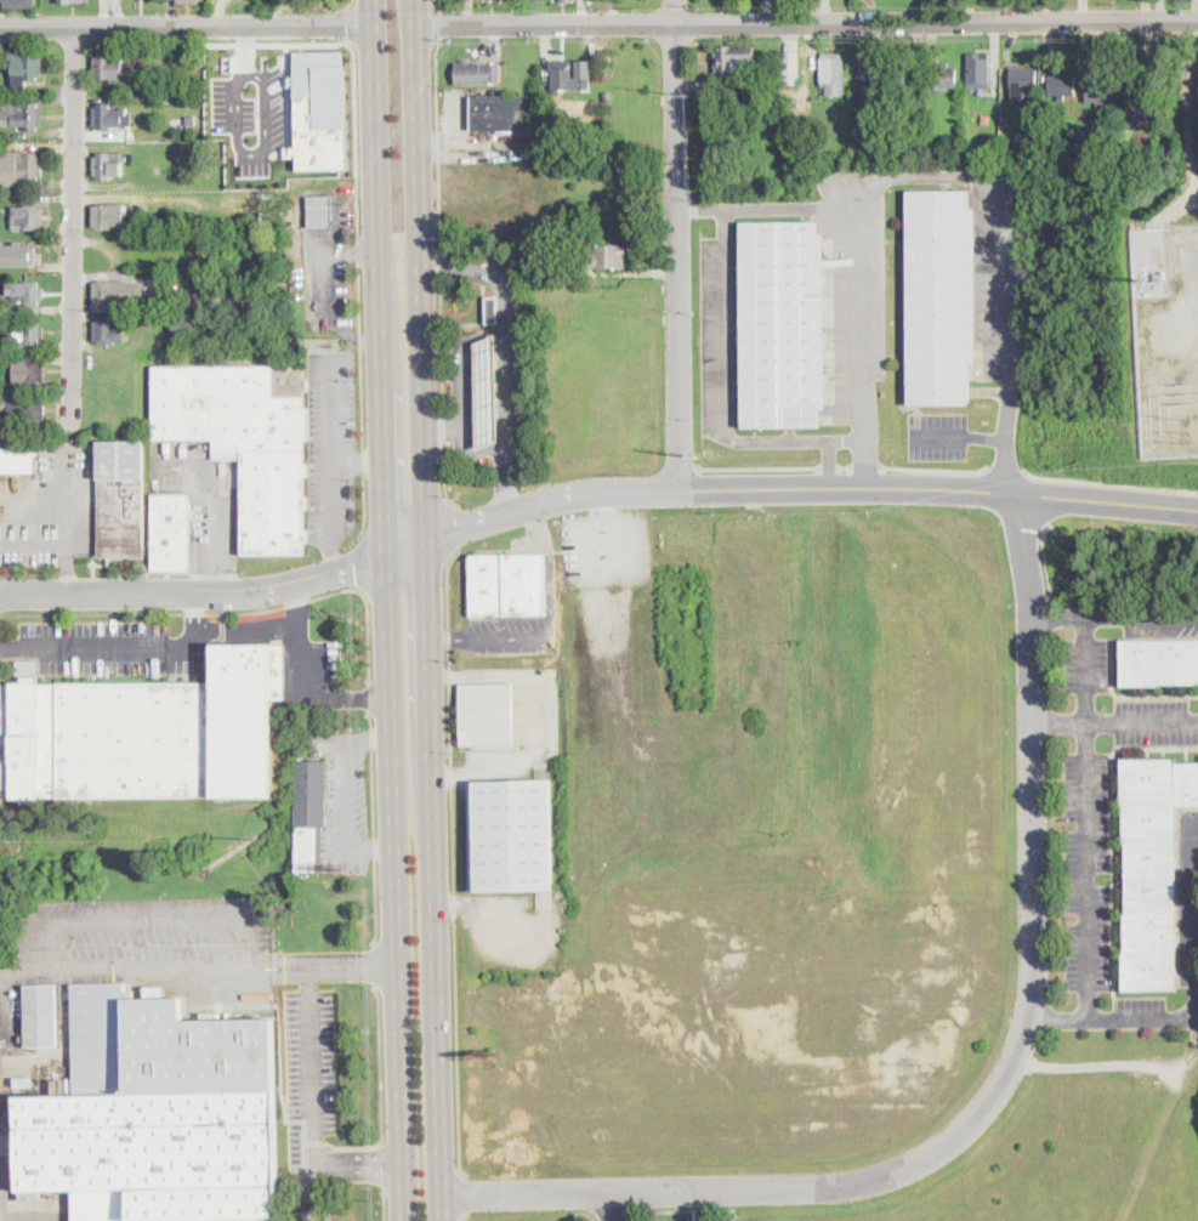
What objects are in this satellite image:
building: (69, 1)
building: (189, 1)
building: (564, 1)
road: (435, 2)
building: (19, 4)
power tower: (692, 6)
road: (347, 7)
road: (415, 11)
road: (278, 12)
road: (436, 22)
road: (807, 23)
road: (350, 24)
road: (186, 25)
road: (278, 42)
road: (245, 50)
building: (732, 58)
building: (791, 63)
building: (25, 68)
building: (108, 68)
building: (867, 70)
building: (978, 70)
building: (904, 72)
building: (476, 73)
building: (833, 73)
building: (946, 76)
building: (1023, 78)
building: (568, 79)
building: (127, 85)
building: (1062, 85)
building: (146, 86)
building: (1100, 92)
road: (288, 93)
power tower: (693, 95)
road: (266, 96)
building: (608, 97)
building: (1135, 106)
building: (147, 109)
road: (235, 110)
building: (320, 110)
building: (505, 113)
building: (21, 114)
parking lot: (250, 115)
building: (1035, 117)
building: (108, 118)
building: (191, 119)
road: (261, 152)
building: (1125, 152)
building: (108, 165)
building: (19, 167)
building: (320, 211)
building: (28, 216)
building: (109, 216)
road: (438, 223)
road: (75, 227)
building: (141, 227)
road: (1011, 231)
road: (676, 244)
road: (867, 250)
building: (17, 255)
building: (608, 257)
building: (552, 262)
building: (201, 284)
building: (25, 293)
road: (359, 293)
building: (113, 294)
building: (942, 296)
building: (492, 311)
building: (140, 313)
road: (507, 317)
building: (783, 324)
building: (194, 329)
building: (108, 330)
building: (27, 333)
power substation: (1166, 336)
building: (0, 360)
road: (464, 362)
building: (29, 370)
building: (2, 386)
building: (487, 391)
road: (729, 391)
building: (27, 409)
road: (443, 425)
road: (445, 427)
power tower: (1190, 431)
road: (938, 435)
building: (246, 439)
parking lot: (333, 444)
road: (1005, 447)
road: (334, 450)
power tower: (700, 455)
road: (358, 458)
building: (17, 460)
road: (829, 466)
road: (845, 466)
road: (865, 466)
road: (759, 467)
road: (935, 470)
road: (1006, 471)
road: (443, 476)
road: (507, 478)
road: (1111, 483)
road: (788, 487)
building: (121, 499)
parking lot: (204, 499)
road: (217, 511)
road: (452, 527)
building: (171, 533)
road: (607, 534)
road: (63, 541)
parking lot: (607, 549)
road: (1046, 558)
road: (335, 561)
road: (363, 563)
road: (218, 581)
building: (507, 583)
road: (195, 595)
road: (387, 610)
road: (228, 612)
road: (1114, 615)
road: (199, 621)
road: (430, 621)
road: (250, 626)
road: (551, 626)
parking lot: (513, 632)
parking lot: (121, 646)
road: (11, 649)
road: (112, 649)
building: (1159, 661)
road: (1086, 670)
road: (306, 676)
road: (370, 697)
building: (487, 715)
road: (540, 722)
road: (1058, 723)
building: (144, 733)
building: (311, 812)
road: (375, 828)
building: (510, 835)
road: (452, 857)
building: (1153, 869)
road: (1085, 870)
road: (1191, 909)
road: (149, 921)
parking lot: (146, 937)
road: (45, 943)
road: (252, 944)
road: (375, 965)
road: (22, 966)
road: (148, 966)
road: (280, 966)
road: (352, 966)
building: (40, 1016)
road: (1056, 1017)
building: (195, 1050)
road: (310, 1066)
parking lot: (310, 1079)
building: (24, 1080)
road: (1003, 1081)
road: (382, 1092)
building: (146, 1135)
road: (384, 1165)
road: (358, 1166)
road: (460, 1191)
road: (386, 1204)
road: (611, 1206)
road: (461, 1217)

